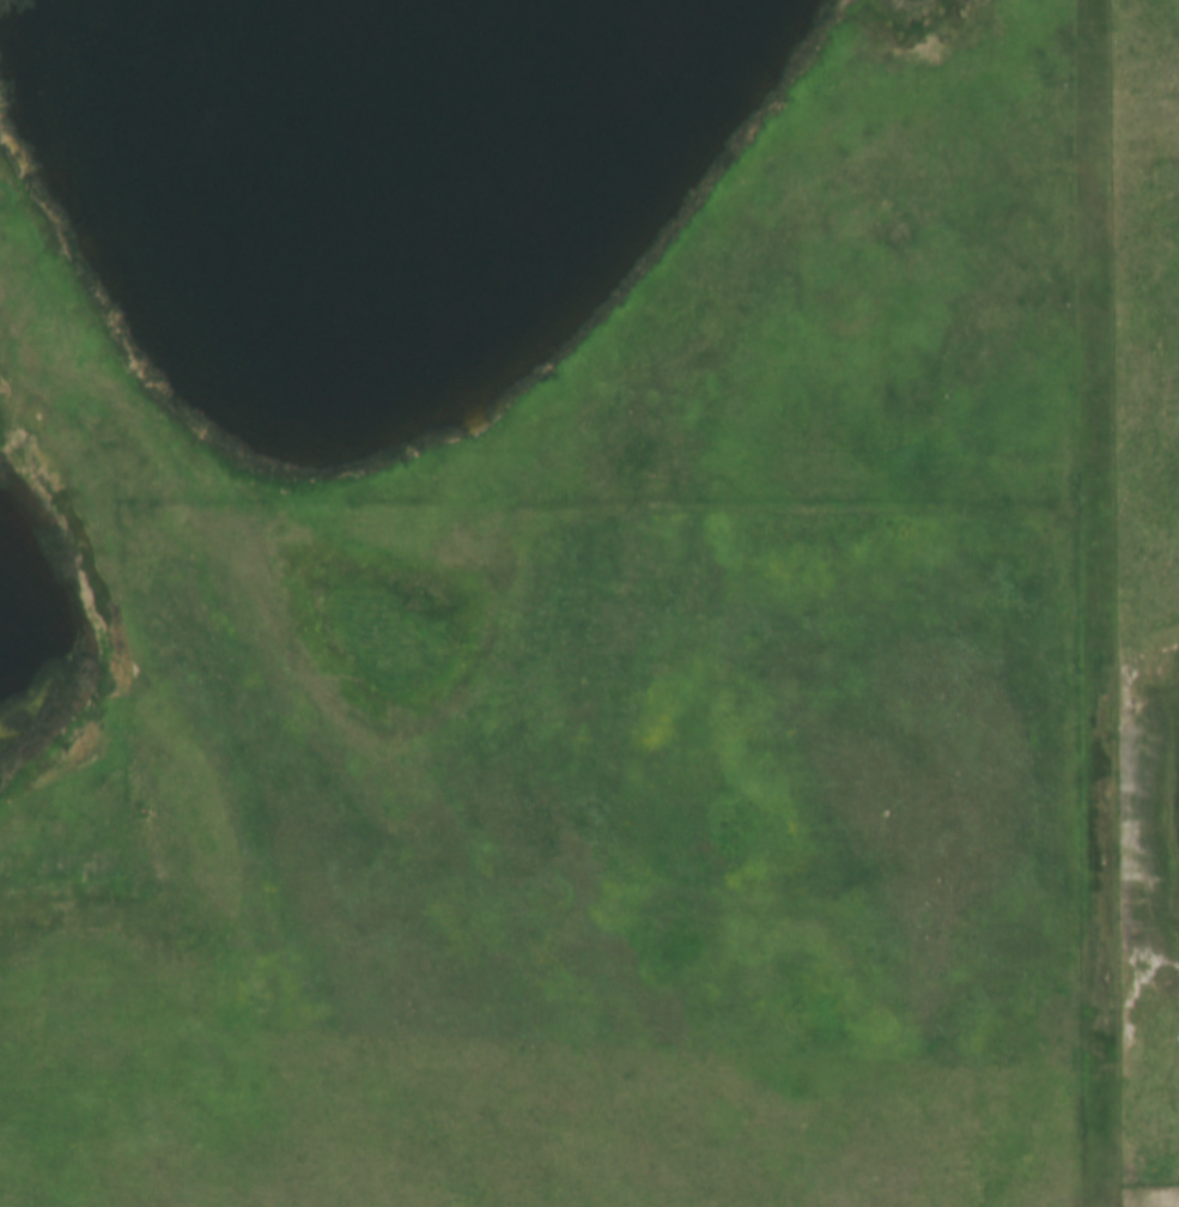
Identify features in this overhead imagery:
road: (1101, 602)

